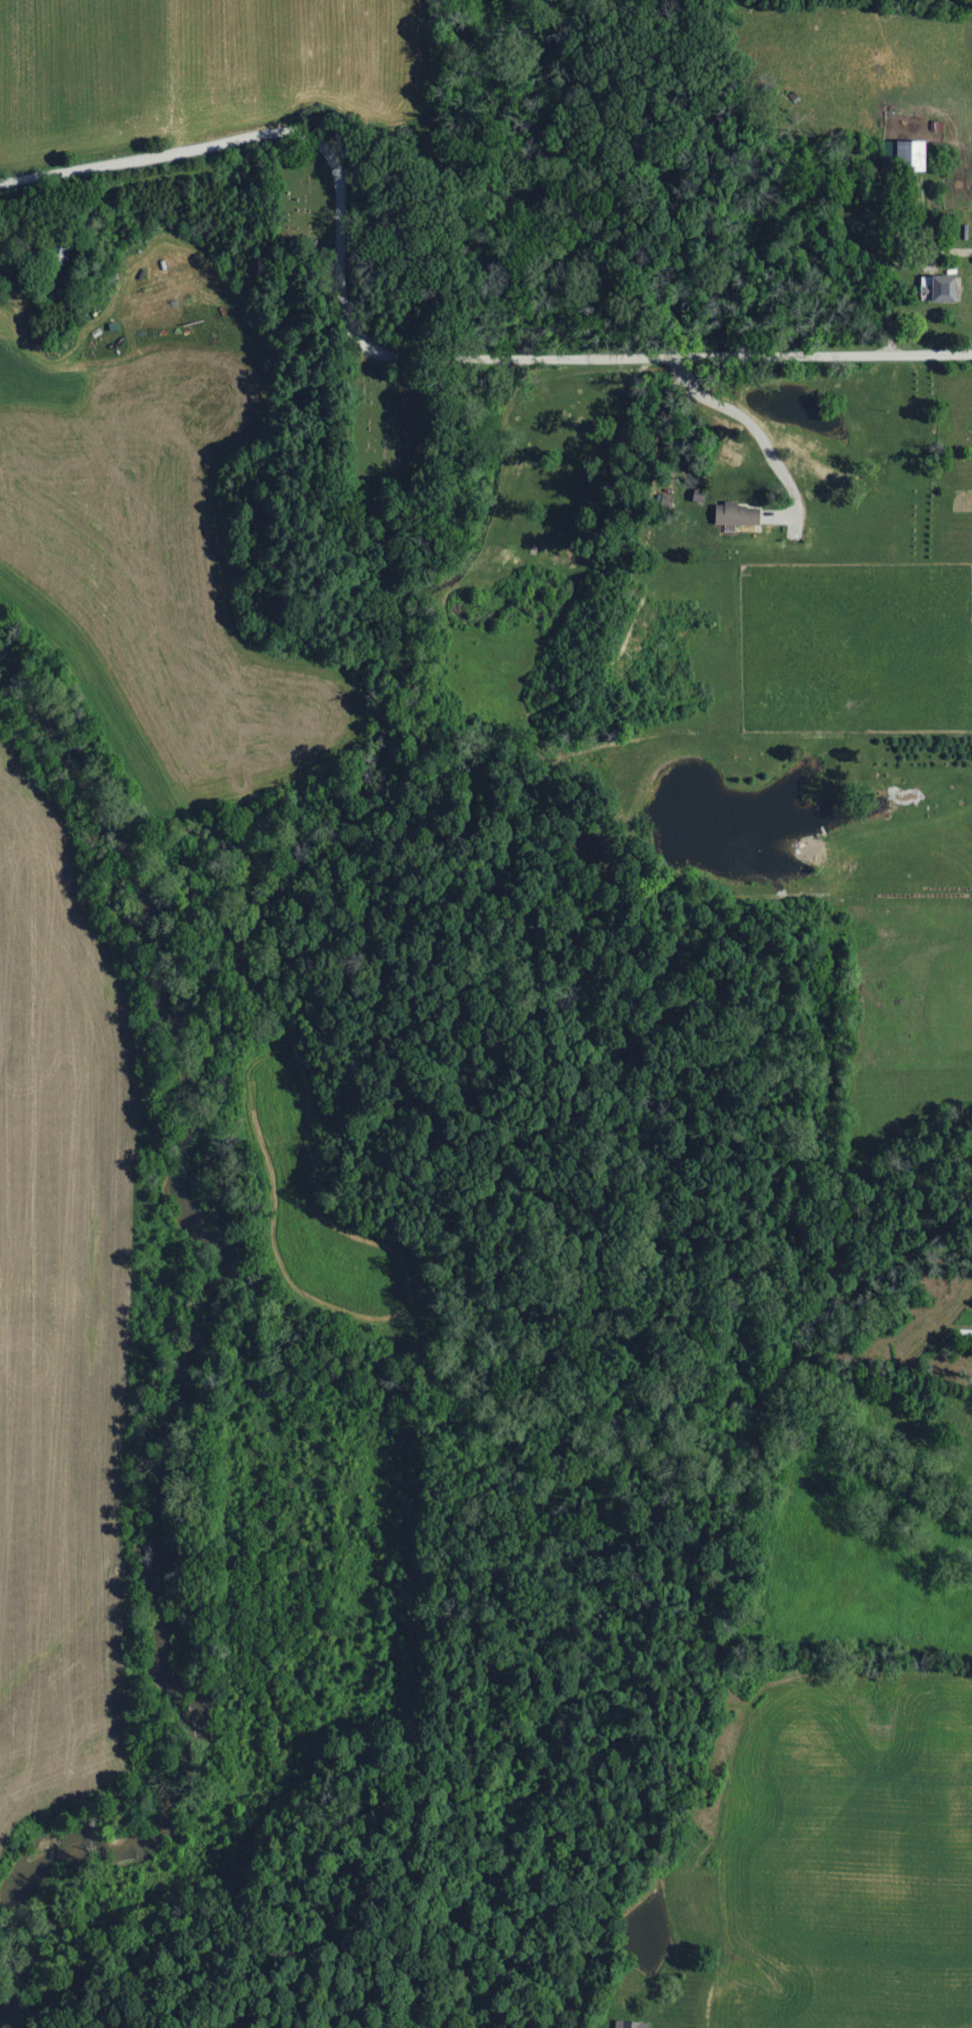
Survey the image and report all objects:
building: (914, 155)
park: (298, 194)
road: (894, 270)
building: (929, 286)
building: (947, 288)
road: (397, 349)
park: (376, 423)
road: (757, 432)
building: (738, 515)
building: (631, 2025)

